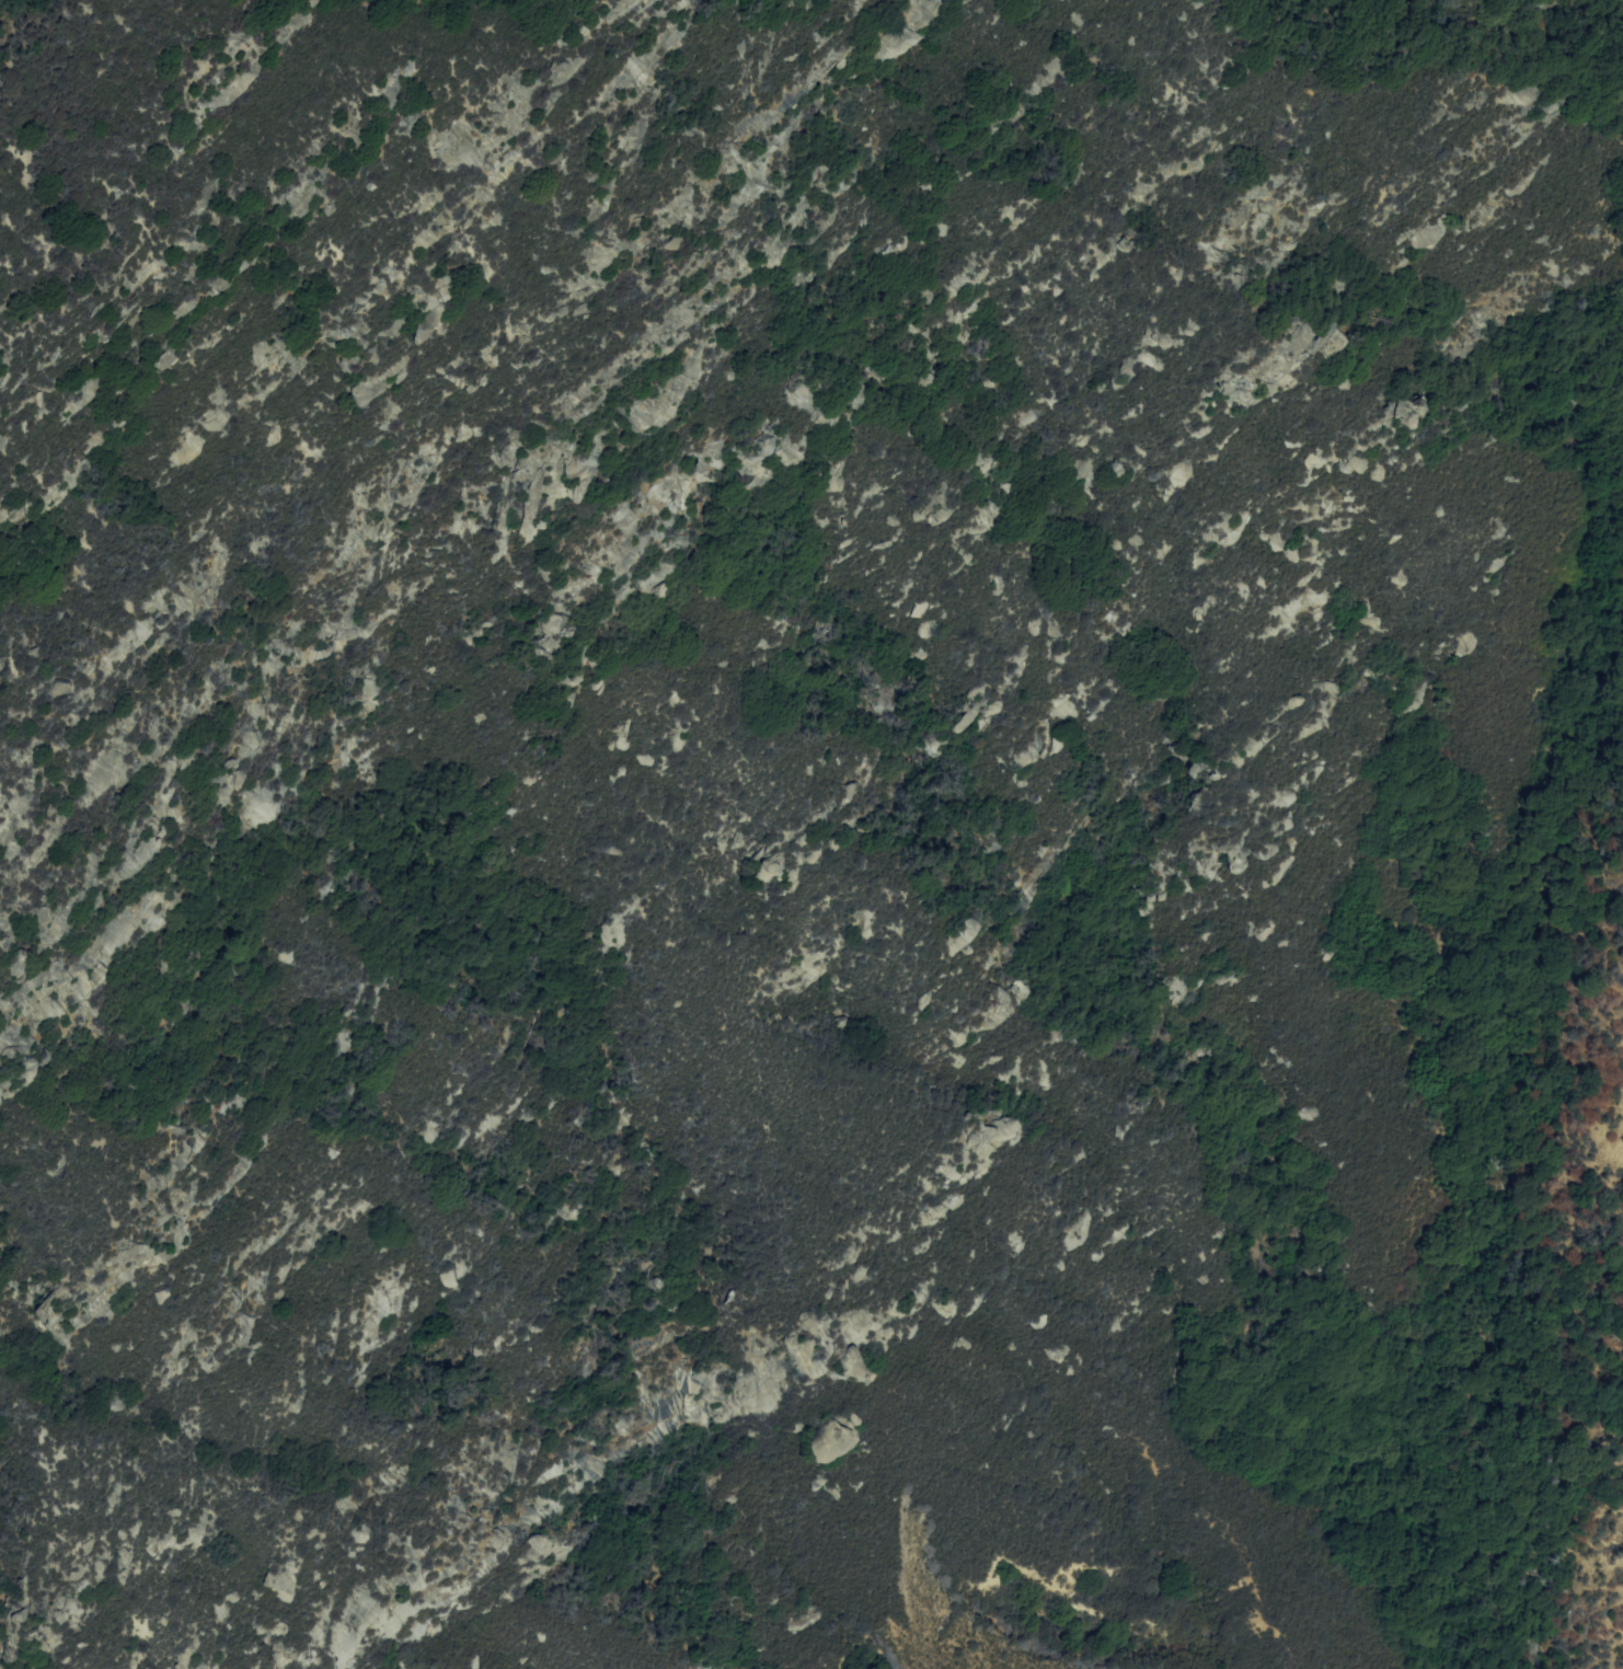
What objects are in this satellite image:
building: (1423, 239)
building: (1396, 582)

